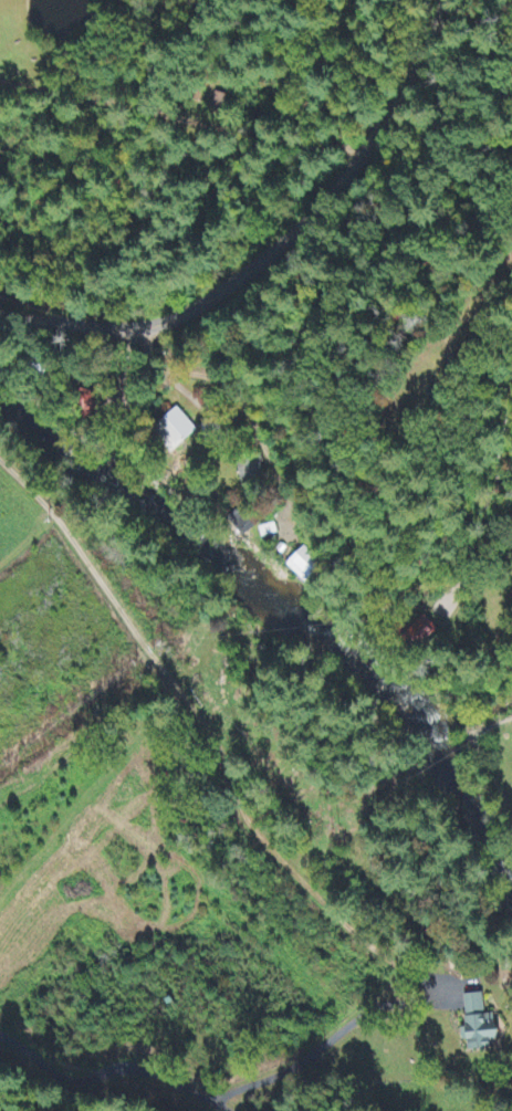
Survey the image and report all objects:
road: (188, 116)
road: (280, 248)
road: (281, 506)
river: (217, 538)
building: (304, 565)
river: (462, 808)
building: (472, 1025)

